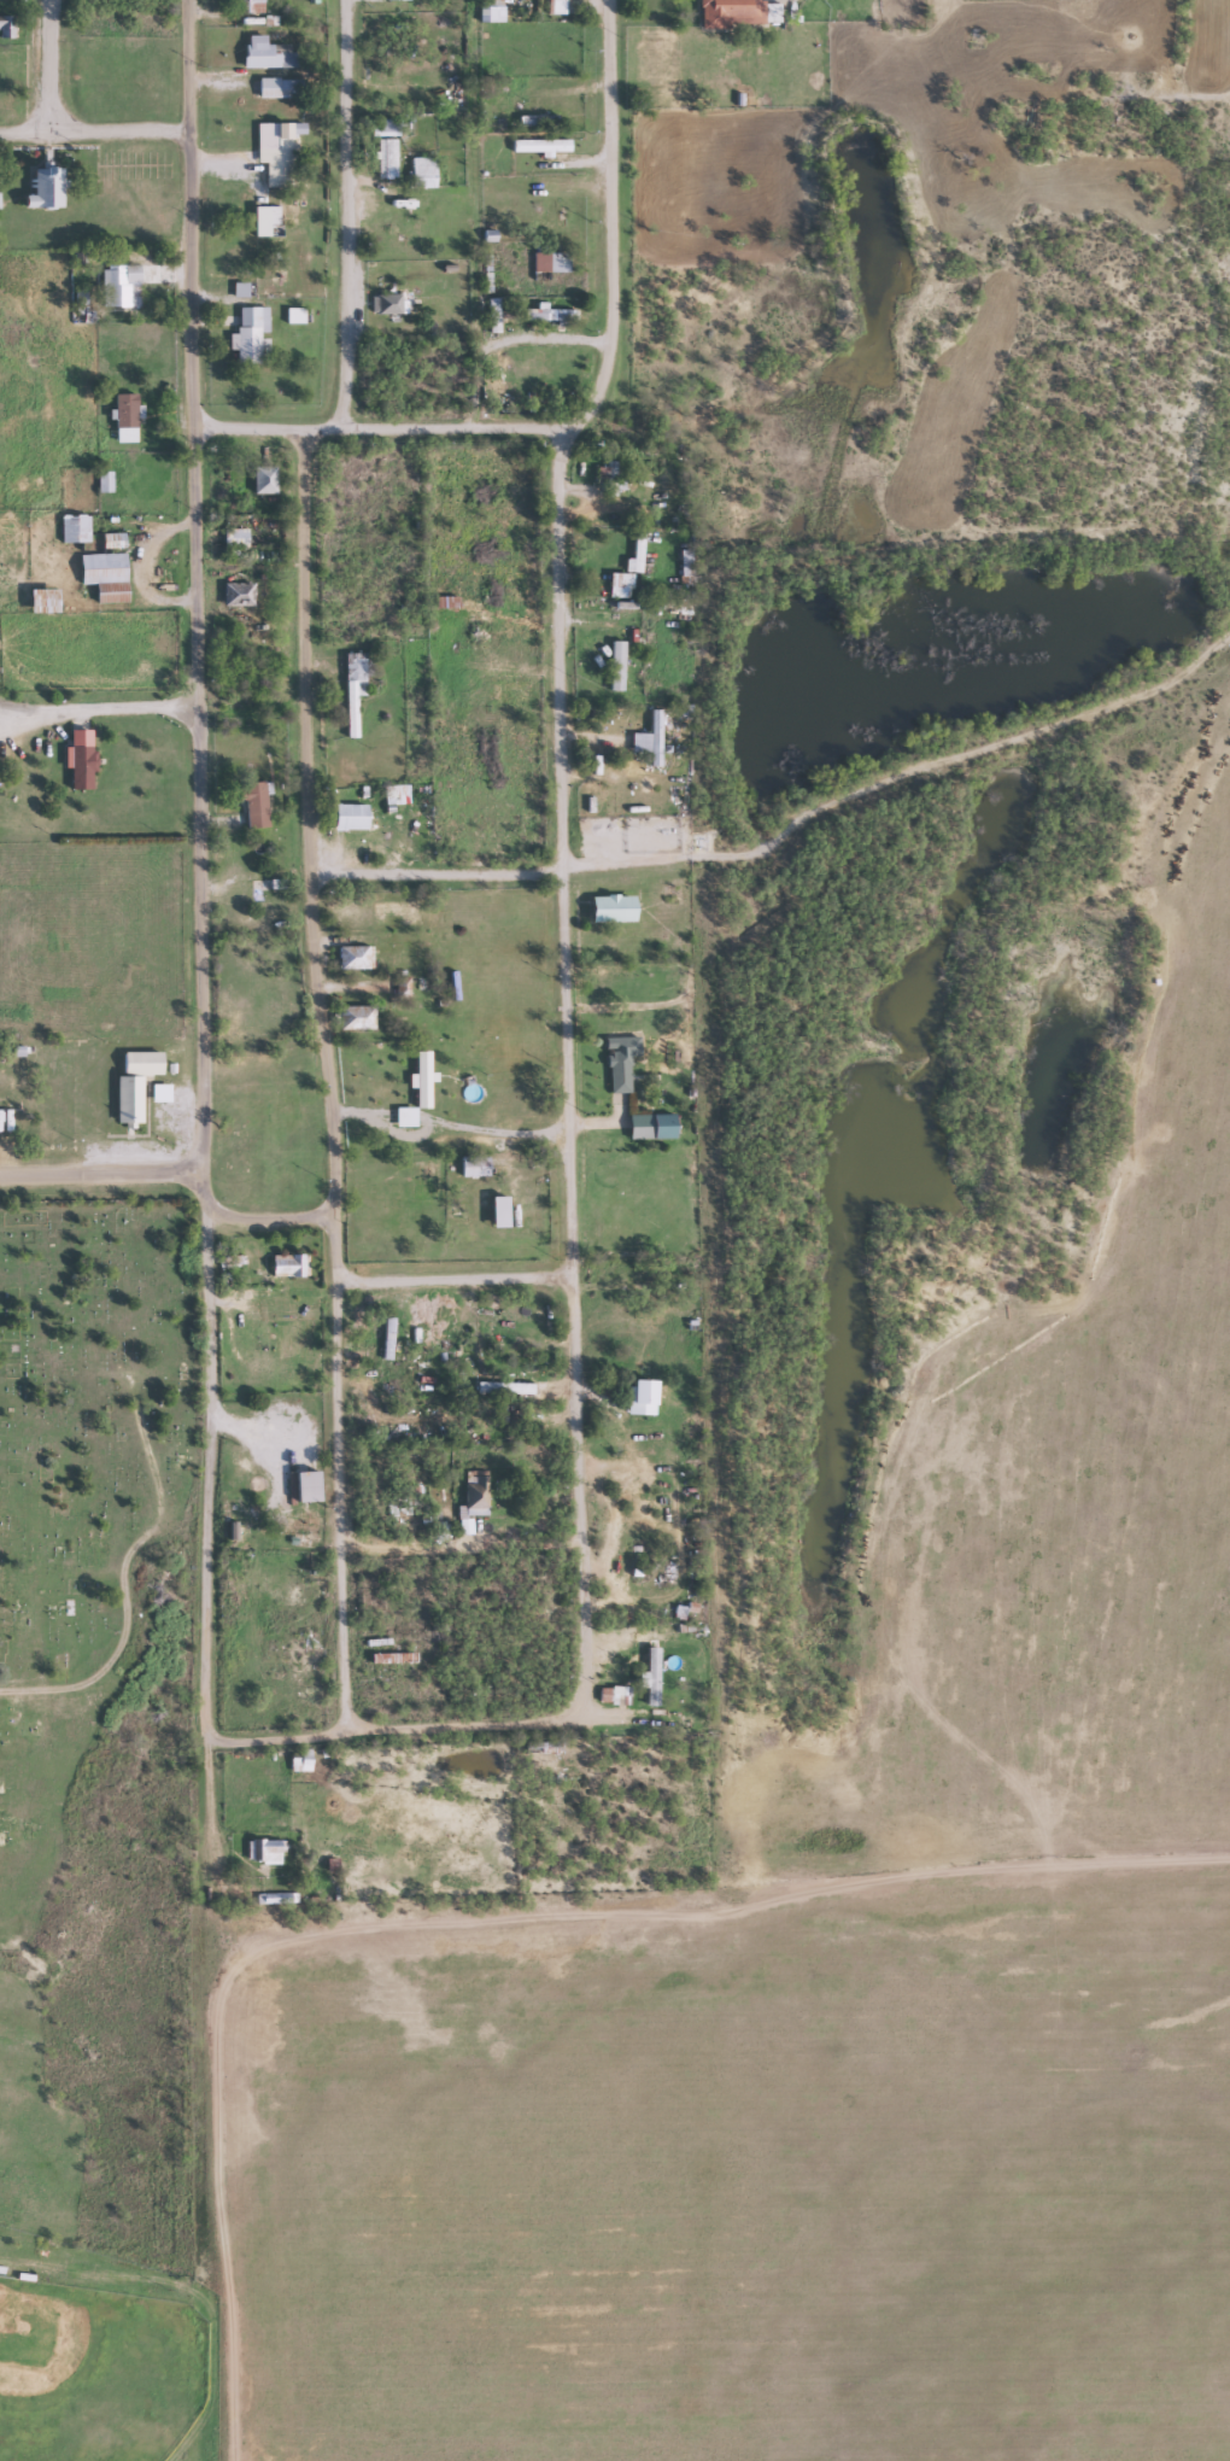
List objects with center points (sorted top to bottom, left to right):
building: (248, 6)
building: (728, 13)
building: (5, 27)
building: (973, 37)
building: (263, 53)
road: (48, 65)
building: (4, 83)
building: (276, 88)
building: (535, 121)
building: (381, 127)
road: (92, 131)
building: (538, 145)
building: (274, 152)
building: (420, 171)
building: (42, 189)
road: (342, 215)
road: (608, 221)
building: (411, 230)
building: (546, 262)
building: (122, 283)
building: (389, 303)
building: (546, 315)
building: (247, 334)
building: (497, 390)
building: (123, 417)
road: (457, 427)
building: (607, 475)
building: (260, 480)
building: (655, 480)
building: (71, 527)
building: (232, 537)
building: (633, 551)
building: (684, 569)
building: (102, 575)
building: (616, 584)
building: (234, 594)
building: (41, 600)
building: (613, 608)
building: (474, 624)
building: (623, 674)
building: (351, 688)
building: (505, 691)
building: (645, 742)
building: (78, 759)
building: (252, 805)
building: (347, 816)
road: (743, 848)
road: (198, 870)
road: (508, 872)
building: (609, 907)
building: (351, 955)
building: (352, 1017)
building: (617, 1062)
road: (562, 1072)
road: (326, 1078)
building: (131, 1083)
building: (661, 1126)
building: (471, 1167)
road: (96, 1174)
road: (269, 1217)
building: (286, 1265)
road: (526, 1273)
road: (989, 1372)
building: (502, 1389)
building: (638, 1396)
building: (689, 1428)
building: (304, 1485)
building: (471, 1492)
park: (80, 1509)
building: (299, 1522)
road: (119, 1566)
building: (388, 1658)
building: (639, 1672)
road: (368, 1678)
building: (610, 1694)
road: (412, 1725)
building: (297, 1761)
building: (260, 1851)
road: (210, 2100)

